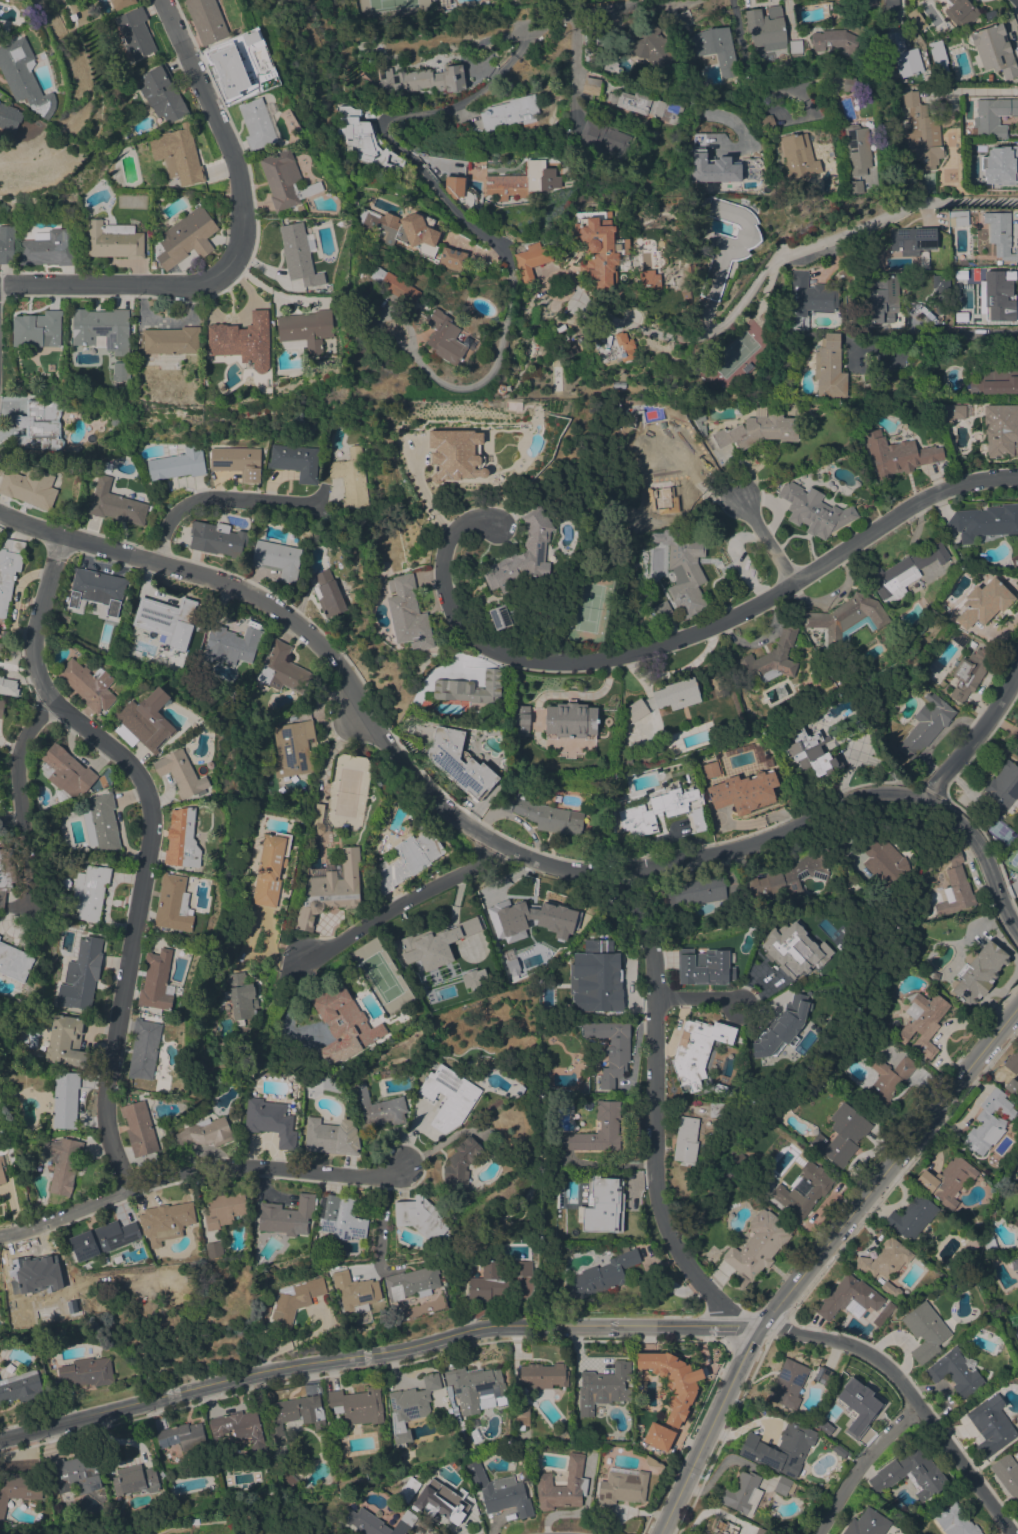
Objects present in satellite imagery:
building: (867, 3)
building: (121, 4)
building: (888, 5)
building: (842, 6)
building: (960, 12)
building: (206, 20)
road: (519, 26)
building: (766, 28)
building: (135, 33)
building: (837, 41)
building: (645, 44)
building: (796, 47)
building: (593, 48)
building: (715, 48)
building: (994, 49)
building: (904, 55)
building: (939, 57)
road: (747, 62)
building: (226, 71)
road: (573, 74)
building: (25, 77)
building: (423, 80)
building: (848, 84)
building: (591, 85)
building: (162, 93)
building: (647, 105)
building: (510, 113)
building: (5, 115)
building: (992, 118)
building: (766, 123)
building: (257, 124)
building: (922, 132)
building: (604, 137)
building: (364, 139)
building: (857, 150)
building: (178, 154)
building: (798, 156)
building: (998, 163)
building: (711, 168)
building: (284, 179)
building: (523, 181)
building: (454, 185)
building: (855, 187)
building: (699, 191)
building: (300, 208)
building: (960, 217)
building: (402, 230)
building: (1000, 234)
building: (186, 237)
building: (114, 240)
road: (494, 240)
building: (912, 240)
building: (728, 243)
building: (6, 244)
road: (244, 246)
building: (49, 247)
road: (796, 247)
building: (598, 248)
building: (299, 255)
building: (452, 258)
building: (923, 259)
building: (531, 260)
building: (153, 263)
building: (998, 263)
building: (943, 265)
building: (454, 275)
building: (649, 279)
building: (939, 284)
building: (395, 285)
building: (990, 289)
building: (810, 295)
building: (883, 301)
building: (956, 315)
building: (997, 318)
building: (37, 329)
building: (102, 329)
building: (305, 330)
road: (944, 333)
building: (445, 337)
building: (171, 340)
building: (242, 340)
building: (625, 345)
building: (596, 346)
building: (830, 367)
building: (120, 371)
building: (995, 381)
building: (500, 389)
building: (954, 412)
building: (697, 417)
building: (39, 425)
building: (757, 430)
building: (1001, 430)
building: (75, 448)
building: (455, 454)
building: (896, 454)
building: (295, 461)
building: (237, 462)
building: (176, 465)
building: (666, 467)
building: (350, 477)
building: (29, 487)
road: (215, 498)
building: (115, 504)
building: (814, 510)
building: (985, 521)
building: (217, 539)
road: (765, 540)
building: (523, 555)
building: (277, 558)
building: (9, 569)
building: (686, 572)
building: (903, 572)
building: (97, 589)
building: (328, 593)
building: (984, 602)
building: (661, 611)
building: (407, 613)
building: (499, 617)
building: (169, 618)
building: (847, 618)
building: (959, 639)
road: (676, 640)
building: (971, 643)
building: (0, 644)
building: (230, 645)
building: (0, 648)
road: (328, 661)
building: (766, 661)
building: (282, 670)
building: (970, 672)
building: (815, 680)
building: (88, 684)
building: (8, 685)
building: (471, 690)
building: (665, 698)
building: (1, 707)
building: (520, 718)
building: (147, 719)
building: (570, 720)
building: (925, 725)
road: (974, 741)
building: (293, 747)
building: (731, 753)
building: (1017, 754)
building: (813, 755)
building: (459, 763)
building: (711, 770)
building: (66, 773)
building: (181, 773)
building: (1000, 790)
building: (743, 792)
road: (15, 796)
road: (843, 805)
building: (655, 811)
building: (544, 815)
building: (317, 819)
building: (698, 819)
building: (101, 823)
building: (300, 828)
building: (182, 839)
road: (148, 840)
building: (409, 858)
building: (882, 860)
building: (270, 869)
building: (6, 873)
building: (1017, 873)
building: (789, 877)
building: (955, 886)
building: (329, 890)
building: (695, 891)
building: (90, 892)
road: (402, 903)
building: (173, 904)
building: (531, 916)
building: (89, 926)
building: (435, 941)
building: (792, 953)
building: (607, 961)
building: (14, 962)
building: (705, 966)
building: (978, 972)
building: (81, 974)
building: (473, 978)
building: (156, 981)
building: (586, 982)
building: (240, 997)
road: (698, 998)
building: (783, 1022)
building: (923, 1022)
building: (343, 1025)
building: (66, 1042)
building: (144, 1048)
building: (610, 1049)
building: (696, 1050)
building: (1012, 1061)
building: (887, 1082)
building: (729, 1094)
building: (449, 1097)
building: (64, 1099)
road: (653, 1106)
building: (374, 1108)
building: (270, 1120)
building: (989, 1122)
building: (608, 1125)
building: (139, 1128)
building: (2, 1130)
building: (203, 1133)
building: (842, 1134)
building: (331, 1136)
building: (685, 1139)
building: (737, 1162)
building: (63, 1163)
building: (461, 1166)
building: (1, 1171)
road: (195, 1172)
building: (947, 1180)
building: (818, 1189)
building: (544, 1199)
building: (605, 1202)
building: (225, 1208)
building: (287, 1216)
building: (912, 1216)
building: (340, 1217)
building: (421, 1217)
building: (165, 1221)
road: (381, 1224)
building: (103, 1239)
building: (990, 1243)
building: (757, 1246)
building: (968, 1248)
building: (214, 1249)
building: (316, 1250)
road: (816, 1258)
building: (885, 1258)
building: (1014, 1263)
building: (604, 1273)
building: (34, 1276)
building: (496, 1278)
building: (522, 1279)
building: (102, 1281)
building: (412, 1282)
building: (173, 1287)
building: (1017, 1287)
building: (891, 1289)
building: (560, 1290)
building: (354, 1291)
building: (848, 1296)
building: (295, 1299)
building: (884, 1314)
building: (925, 1331)
road: (295, 1341)
road: (376, 1349)
building: (956, 1371)
building: (86, 1372)
building: (544, 1375)
building: (823, 1375)
building: (672, 1381)
building: (788, 1383)
building: (603, 1386)
building: (20, 1387)
building: (476, 1388)
building: (451, 1396)
road: (909, 1396)
building: (858, 1403)
building: (357, 1405)
building: (410, 1407)
building: (449, 1411)
building: (295, 1413)
building: (521, 1416)
building: (991, 1425)
building: (238, 1426)
building: (460, 1426)
building: (461, 1435)
building: (182, 1436)
building: (562, 1436)
building: (658, 1436)
building: (519, 1448)
building: (780, 1449)
building: (839, 1451)
building: (652, 1461)
building: (281, 1465)
road: (866, 1467)
building: (76, 1474)
building: (1007, 1474)
building: (928, 1476)
building: (134, 1479)
building: (292, 1480)
building: (562, 1485)
building: (784, 1485)
building: (622, 1487)
building: (18, 1490)
building: (410, 1490)
building: (499, 1491)
building: (45, 1492)
building: (742, 1493)
building: (442, 1501)
building: (31, 1505)
building: (195, 1521)
building: (377, 1521)
building: (955, 1521)
building: (867, 1523)
building: (724, 1527)
building: (761, 1531)

